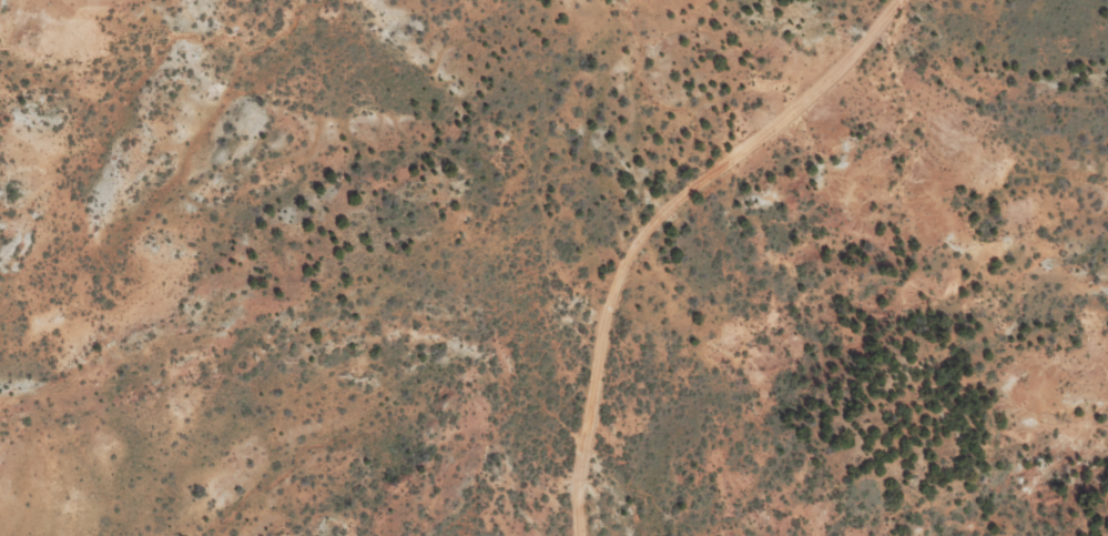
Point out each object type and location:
road: (614, 239)

